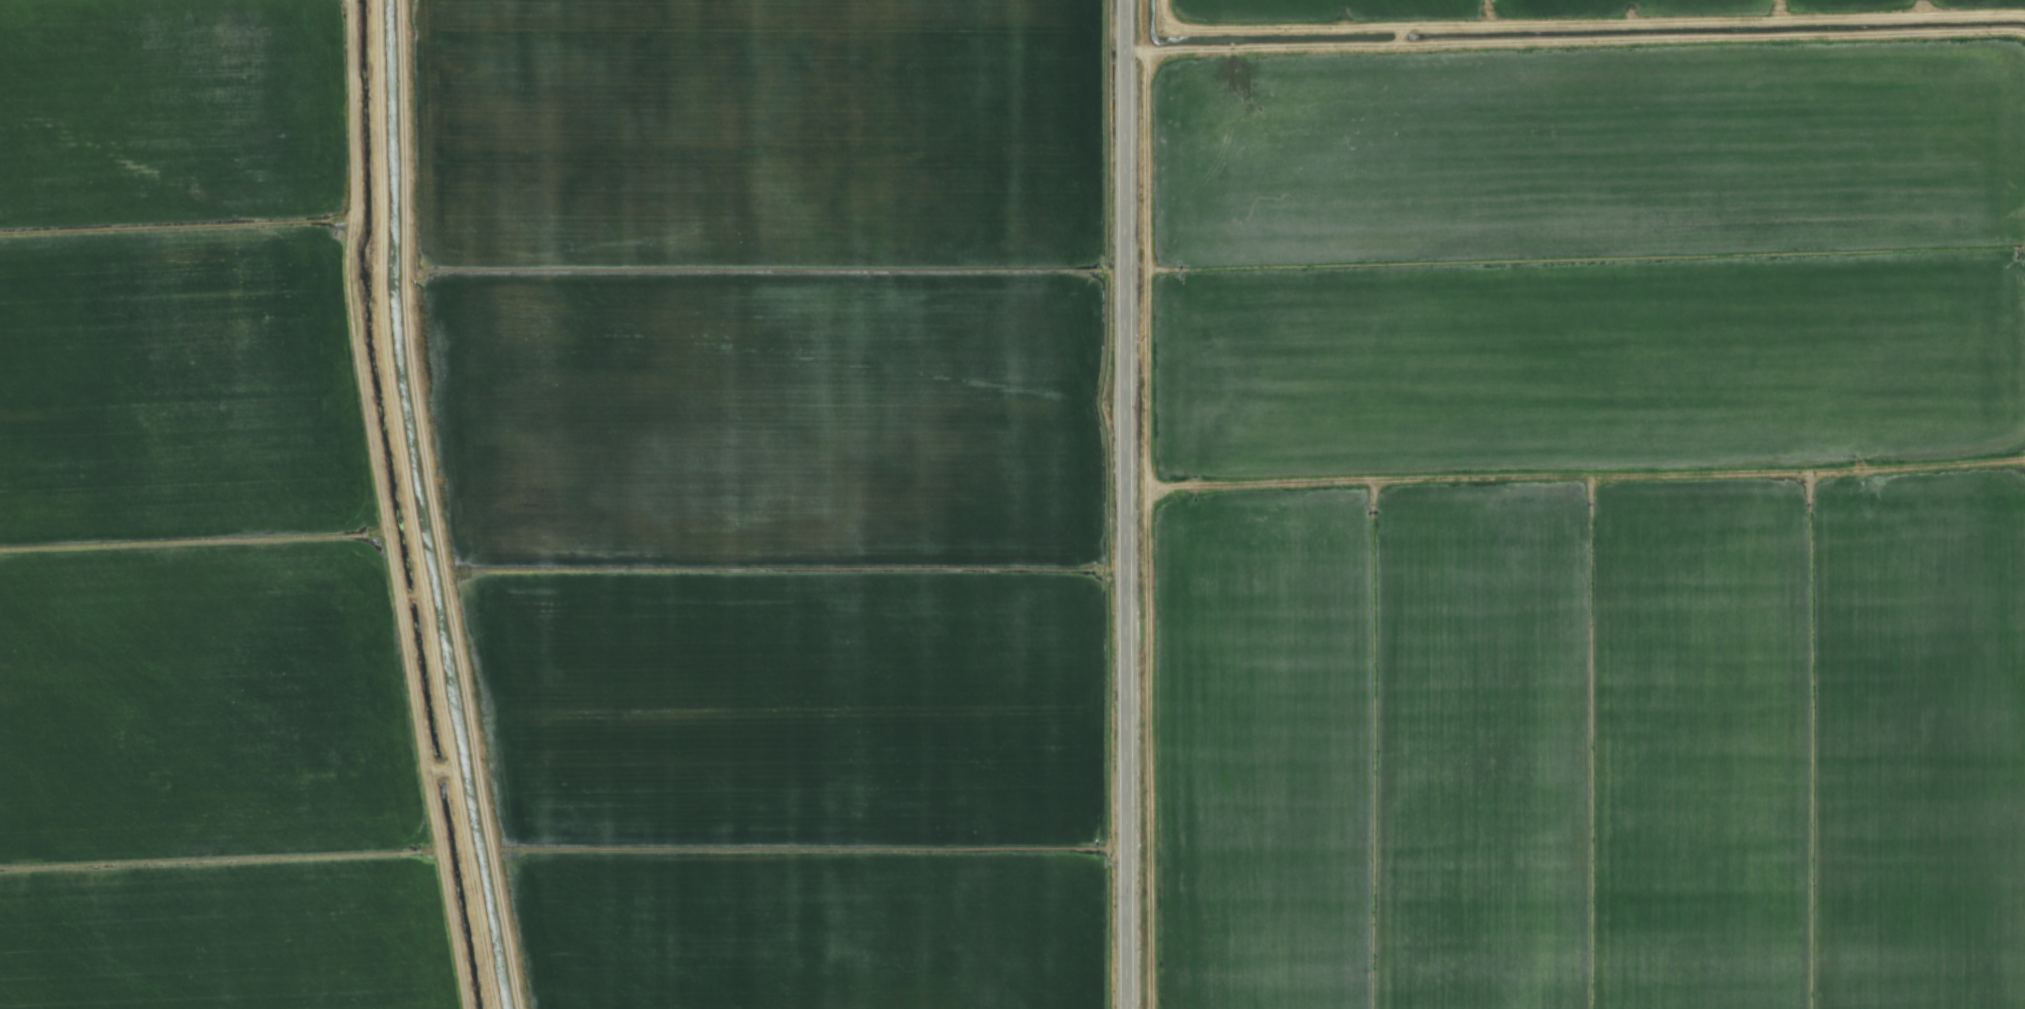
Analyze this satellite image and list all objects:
road: (1123, 504)

